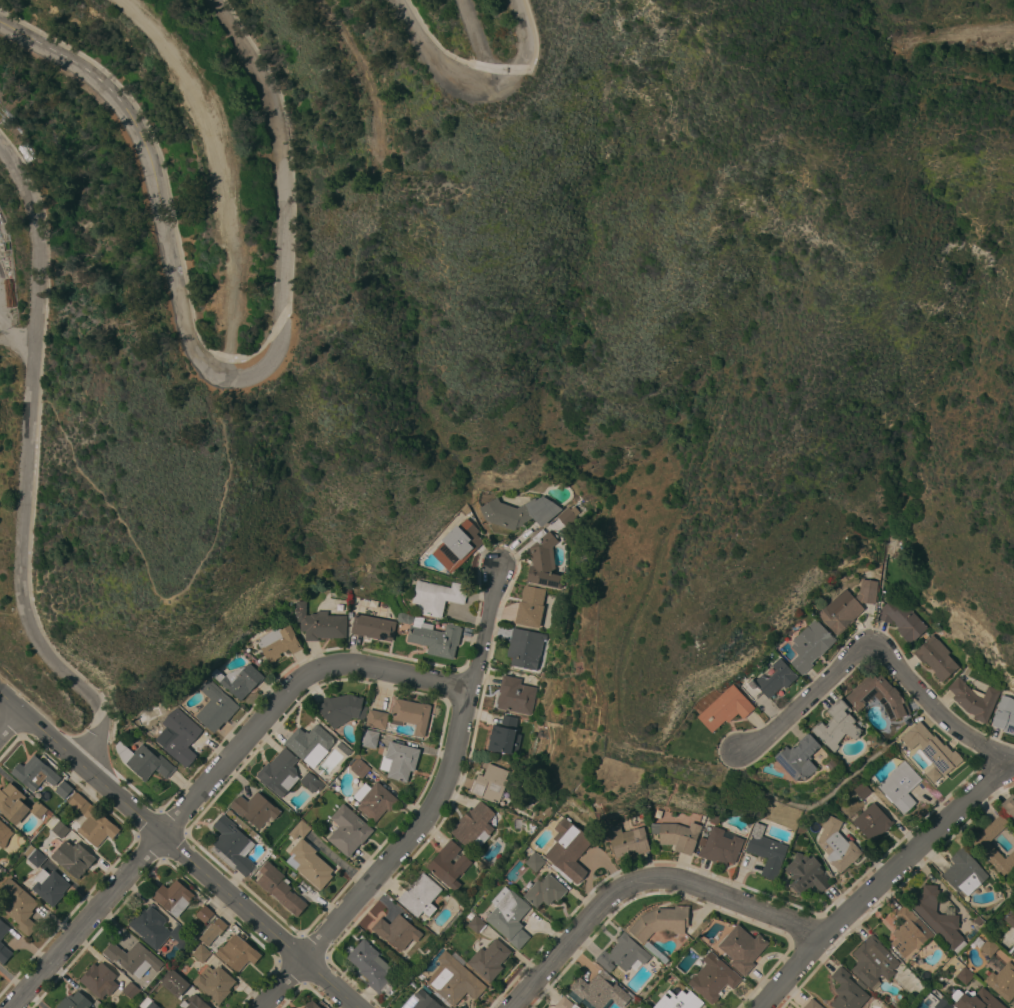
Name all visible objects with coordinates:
road: (956, 29)
road: (474, 41)
road: (476, 83)
road: (217, 174)
road: (16, 341)
road: (218, 375)
road: (28, 465)
building: (518, 512)
building: (568, 515)
building: (457, 545)
building: (543, 561)
building: (437, 596)
building: (530, 606)
building: (847, 606)
building: (902, 620)
building: (319, 623)
building: (373, 627)
building: (434, 637)
building: (278, 642)
building: (810, 645)
building: (525, 648)
road: (882, 648)
building: (936, 657)
building: (239, 680)
building: (769, 681)
building: (515, 695)
building: (878, 696)
building: (974, 699)
building: (215, 706)
building: (725, 708)
building: (343, 709)
building: (411, 714)
building: (1004, 715)
building: (377, 719)
road: (11, 723)
building: (837, 725)
building: (179, 736)
building: (504, 736)
building: (370, 738)
building: (310, 743)
building: (931, 748)
building: (799, 757)
building: (144, 761)
building: (399, 761)
building: (360, 768)
building: (279, 772)
building: (35, 773)
road: (215, 778)
building: (311, 782)
building: (490, 783)
building: (900, 786)
building: (63, 789)
building: (862, 790)
building: (375, 800)
building: (17, 804)
building: (1009, 804)
building: (255, 809)
road: (430, 812)
building: (92, 822)
building: (872, 822)
road: (153, 824)
building: (57, 826)
building: (474, 826)
building: (300, 829)
building: (348, 830)
building: (4, 834)
building: (679, 836)
building: (627, 840)
building: (233, 844)
building: (836, 844)
building: (720, 846)
building: (983, 846)
building: (568, 849)
building: (766, 851)
building: (34, 856)
building: (73, 858)
building: (534, 861)
building: (310, 864)
building: (449, 864)
building: (964, 873)
building: (806, 875)
road: (884, 879)
road: (646, 880)
building: (49, 886)
building: (280, 888)
building: (545, 891)
building: (420, 895)
building: (173, 897)
building: (19, 906)
building: (204, 914)
building: (509, 916)
building: (937, 917)
building: (1010, 918)
building: (661, 922)
building: (477, 923)
building: (3, 928)
building: (157, 929)
building: (213, 931)
building: (397, 932)
building: (907, 934)
building: (989, 947)
building: (742, 948)
building: (1012, 952)
building: (4, 953)
building: (201, 953)
building: (238, 953)
building: (622, 953)
building: (133, 958)
building: (490, 959)
building: (873, 961)
building: (369, 964)
building: (963, 974)
building: (713, 977)
building: (454, 979)
building: (99, 980)
building: (1003, 981)
building: (214, 982)
building: (175, 983)
road: (331, 984)
building: (130, 990)
building: (599, 990)
building: (848, 991)
building: (74, 1001)
building: (421, 1001)
building: (679, 1001)
building: (979, 1001)
building: (197, 1002)
building: (148, 1003)
building: (564, 1003)
building: (812, 1004)
building: (943, 1004)
building: (311, 1005)
building: (183, 1007)
building: (639, 1007)
building: (642, 1007)

